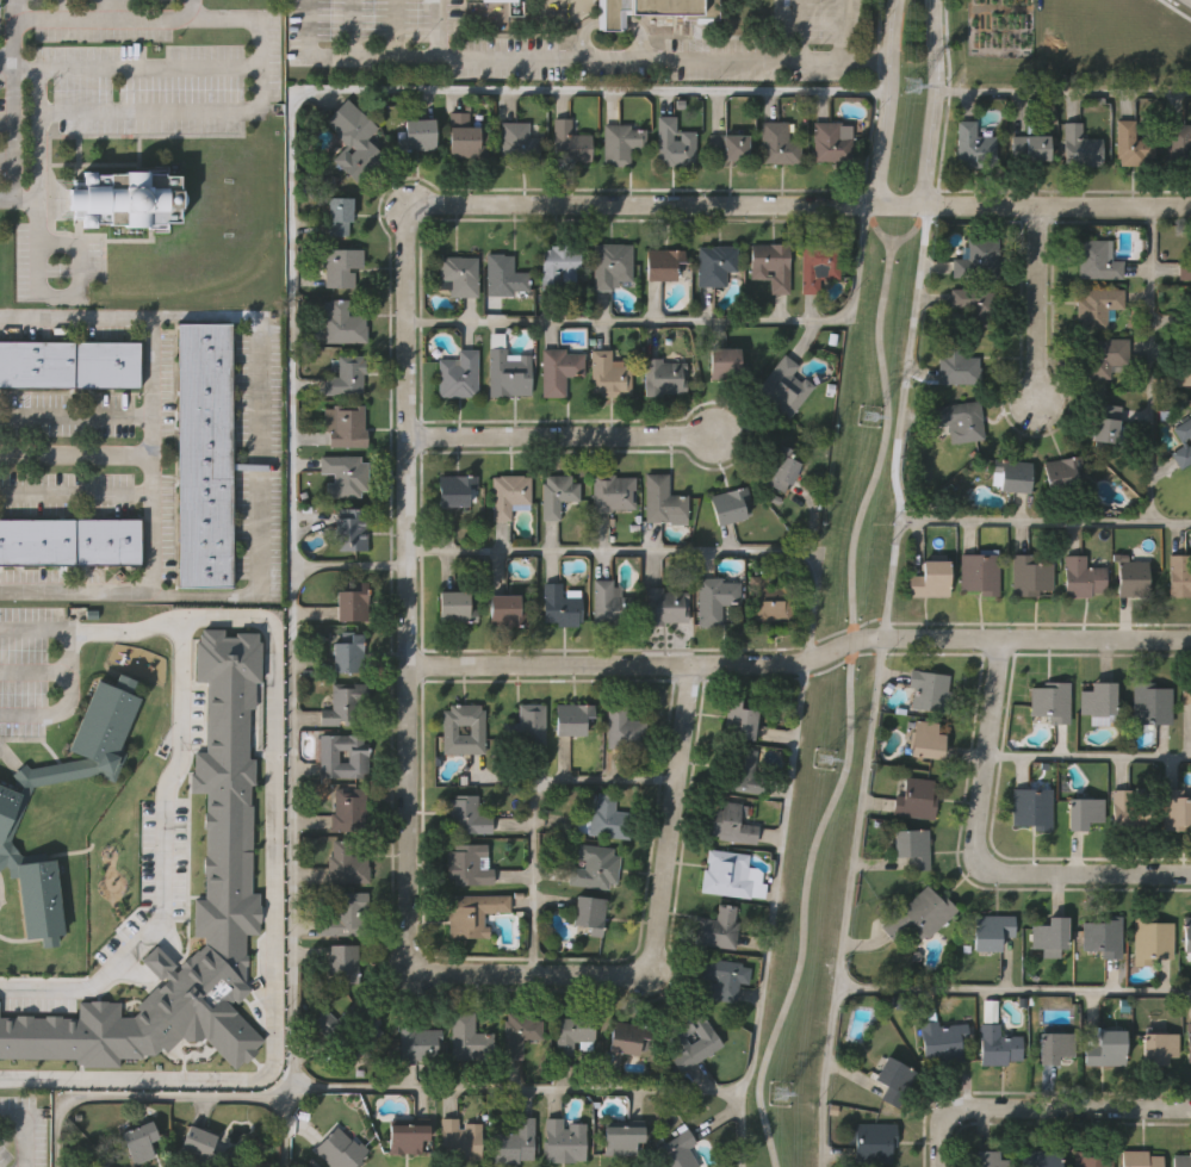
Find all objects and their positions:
building: (478, 0)
road: (103, 8)
building: (681, 8)
road: (11, 10)
building: (609, 13)
road: (159, 14)
road: (63, 18)
road: (800, 31)
road: (844, 31)
road: (10, 38)
road: (349, 58)
road: (635, 61)
road: (54, 67)
power tower: (916, 85)
road: (1061, 93)
road: (885, 103)
road: (929, 103)
road: (944, 105)
road: (11, 130)
building: (416, 137)
building: (464, 137)
building: (832, 139)
building: (353, 141)
building: (517, 143)
building: (570, 143)
building: (777, 143)
building: (1179, 143)
building: (620, 144)
building: (674, 144)
building: (974, 144)
building: (1131, 144)
building: (730, 145)
building: (1080, 145)
building: (1030, 147)
road: (38, 167)
building: (125, 198)
road: (808, 205)
building: (339, 216)
road: (874, 225)
road: (911, 230)
building: (978, 259)
building: (1096, 260)
building: (713, 262)
building: (560, 263)
building: (610, 263)
building: (663, 263)
building: (341, 265)
building: (770, 265)
building: (819, 265)
building: (1185, 269)
building: (459, 274)
building: (504, 274)
road: (51, 293)
building: (973, 303)
road: (1038, 303)
building: (1097, 304)
building: (1190, 312)
building: (341, 323)
road: (683, 323)
road: (292, 337)
building: (1104, 355)
building: (1184, 361)
building: (69, 362)
building: (724, 362)
building: (955, 365)
road: (1150, 365)
building: (558, 370)
building: (457, 374)
building: (507, 374)
building: (345, 377)
building: (609, 378)
building: (662, 378)
building: (781, 385)
road: (75, 414)
power tower: (873, 415)
building: (960, 418)
building: (1106, 421)
building: (345, 426)
road: (562, 436)
building: (1181, 441)
road: (151, 451)
building: (204, 455)
road: (75, 457)
building: (780, 465)
building: (1062, 470)
building: (1011, 473)
building: (345, 474)
building: (453, 486)
building: (610, 491)
road: (75, 492)
building: (508, 494)
building: (554, 494)
building: (660, 498)
building: (733, 502)
road: (901, 503)
building: (352, 526)
building: (69, 542)
road: (663, 551)
road: (351, 569)
road: (408, 569)
building: (980, 572)
building: (1029, 573)
building: (1178, 573)
building: (1080, 575)
building: (1133, 577)
building: (929, 578)
building: (714, 597)
building: (352, 598)
building: (771, 600)
building: (608, 601)
building: (560, 602)
building: (452, 604)
building: (664, 606)
building: (504, 608)
road: (122, 627)
building: (348, 652)
road: (801, 665)
road: (62, 669)
building: (928, 690)
building: (1186, 690)
road: (274, 693)
building: (1052, 699)
building: (1100, 700)
building: (1152, 701)
building: (346, 702)
road: (850, 708)
building: (570, 716)
building: (739, 719)
building: (526, 722)
building: (624, 726)
building: (476, 727)
building: (926, 739)
building: (358, 755)
power tower: (826, 758)
road: (1087, 758)
building: (742, 768)
building: (913, 796)
building: (1031, 806)
road: (534, 808)
building: (349, 811)
building: (1083, 811)
building: (1176, 811)
building: (465, 814)
building: (1124, 814)
building: (8, 815)
building: (607, 818)
building: (732, 825)
building: (225, 842)
road: (856, 842)
building: (911, 845)
road: (978, 855)
building: (467, 863)
building: (347, 865)
building: (595, 865)
building: (722, 875)
building: (588, 912)
building: (346, 913)
building: (471, 913)
building: (919, 915)
building: (718, 927)
building: (992, 929)
building: (1050, 932)
building: (1185, 935)
building: (1100, 937)
building: (1149, 939)
road: (652, 944)
building: (343, 960)
building: (719, 980)
road: (1013, 992)
building: (355, 1026)
building: (522, 1031)
building: (573, 1033)
building: (467, 1037)
building: (939, 1037)
building: (626, 1038)
building: (707, 1041)
building: (1189, 1041)
building: (421, 1042)
building: (1158, 1044)
building: (998, 1047)
building: (1106, 1048)
building: (1052, 1049)
building: (892, 1079)
road: (732, 1090)
road: (139, 1093)
power tower: (780, 1093)
road: (1042, 1107)
road: (739, 1128)
road: (23, 1129)
building: (407, 1134)
building: (618, 1140)
building: (138, 1141)
building: (459, 1141)
building: (563, 1141)
building: (514, 1143)
building: (870, 1143)
building: (197, 1144)
building: (340, 1148)
building: (674, 1152)
building: (987, 1159)
building: (1040, 1159)
building: (1092, 1159)
building: (1140, 1159)
building: (1180, 1160)

